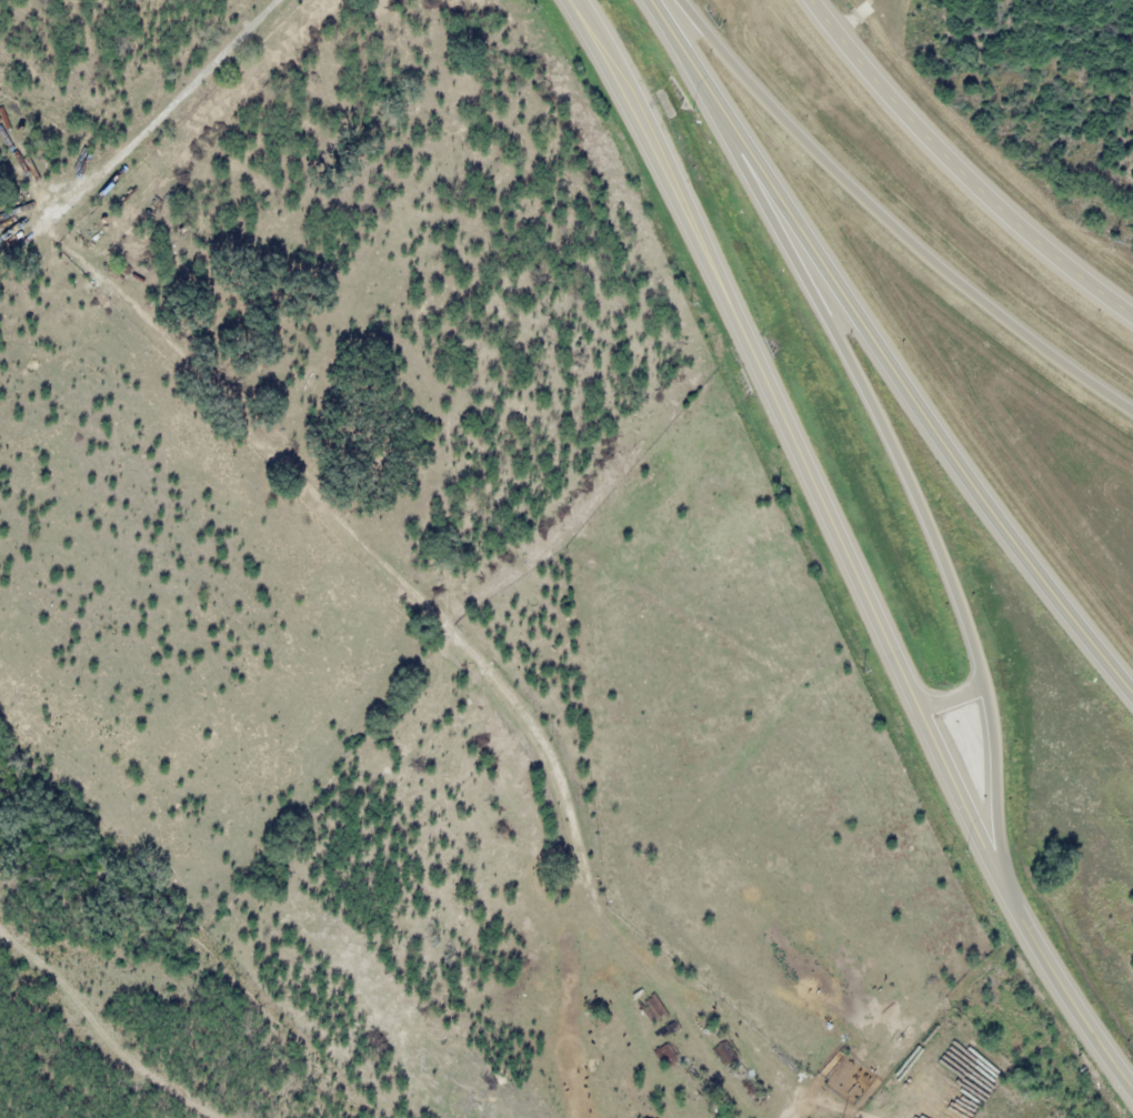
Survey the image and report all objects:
road: (662, 20)
road: (959, 170)
building: (10, 218)
road: (889, 223)
road: (894, 373)
road: (792, 441)
road: (891, 446)
road: (952, 698)
road: (1063, 990)
building: (725, 1051)

